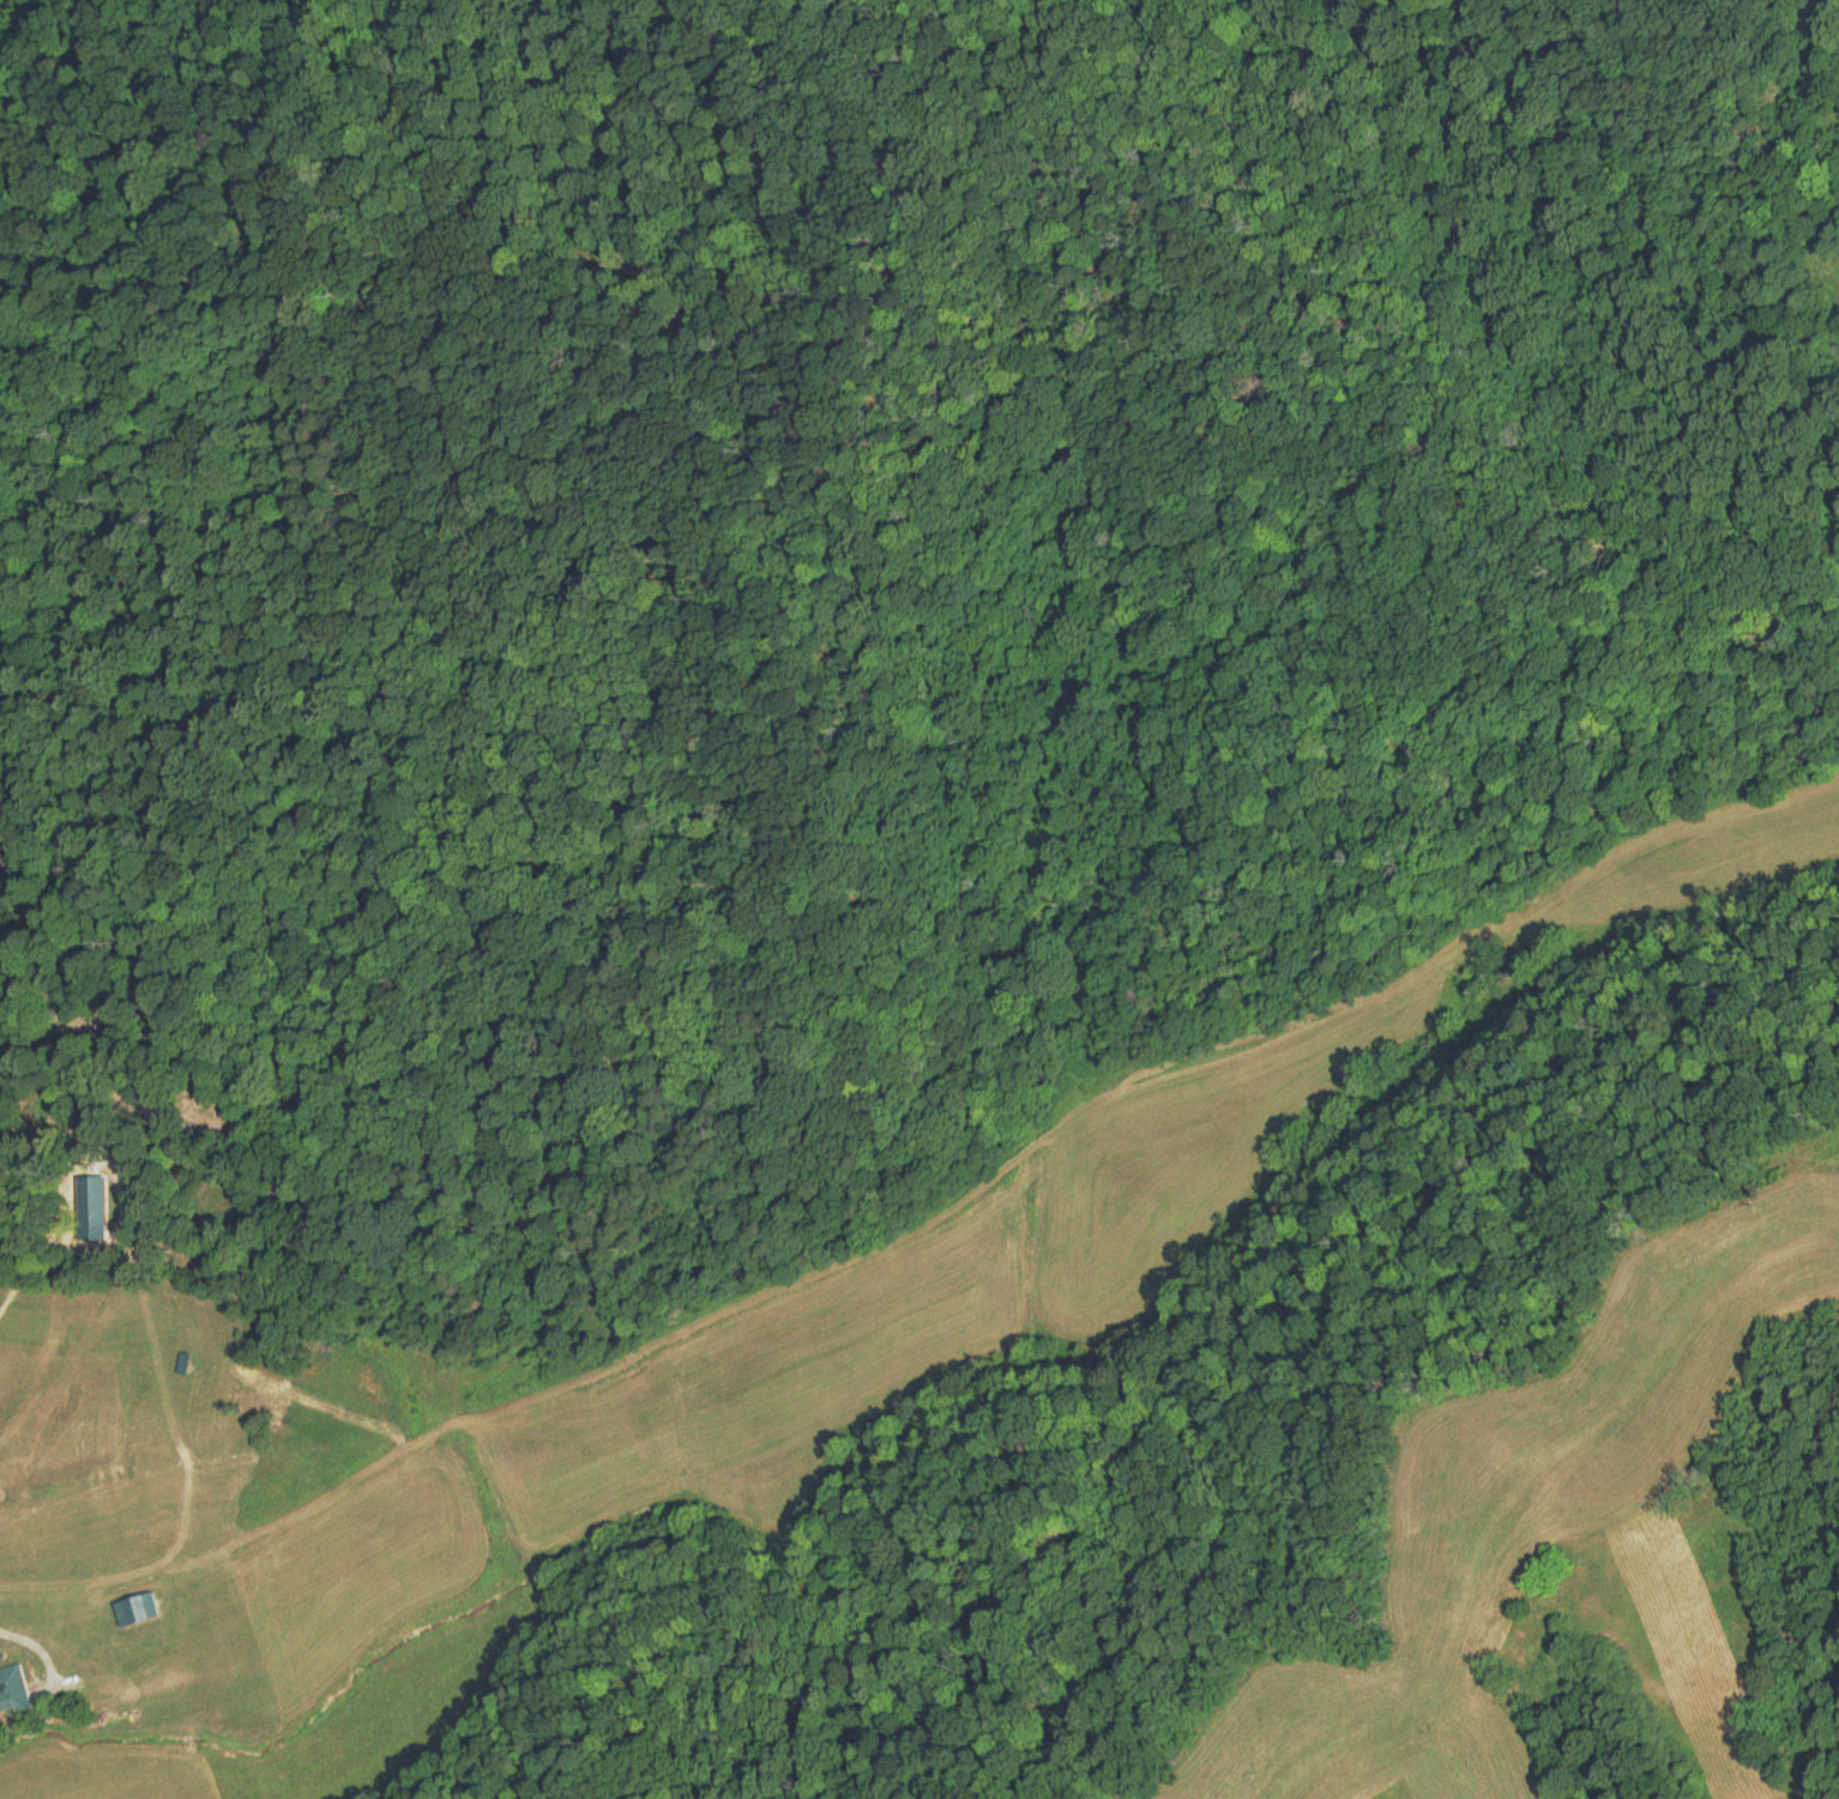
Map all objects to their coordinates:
building: (133, 1608)

